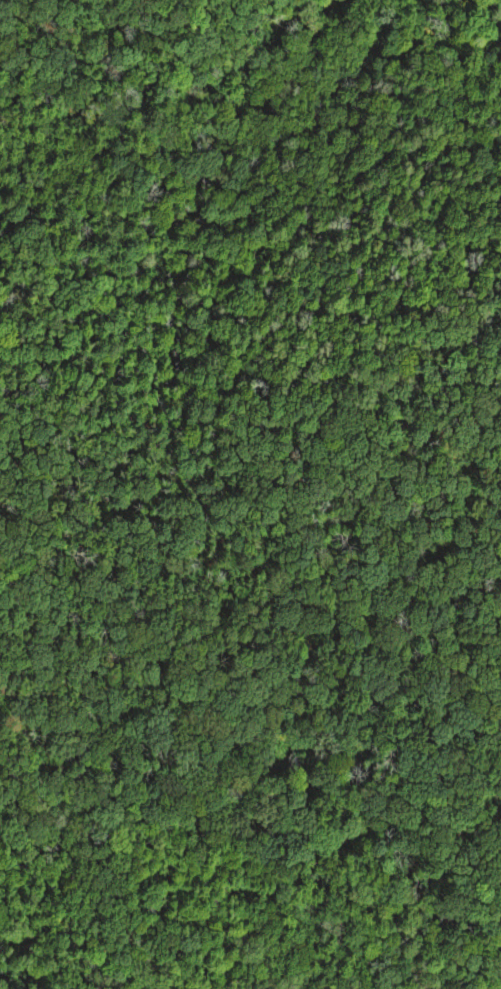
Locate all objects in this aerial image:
park: (443, 957)

